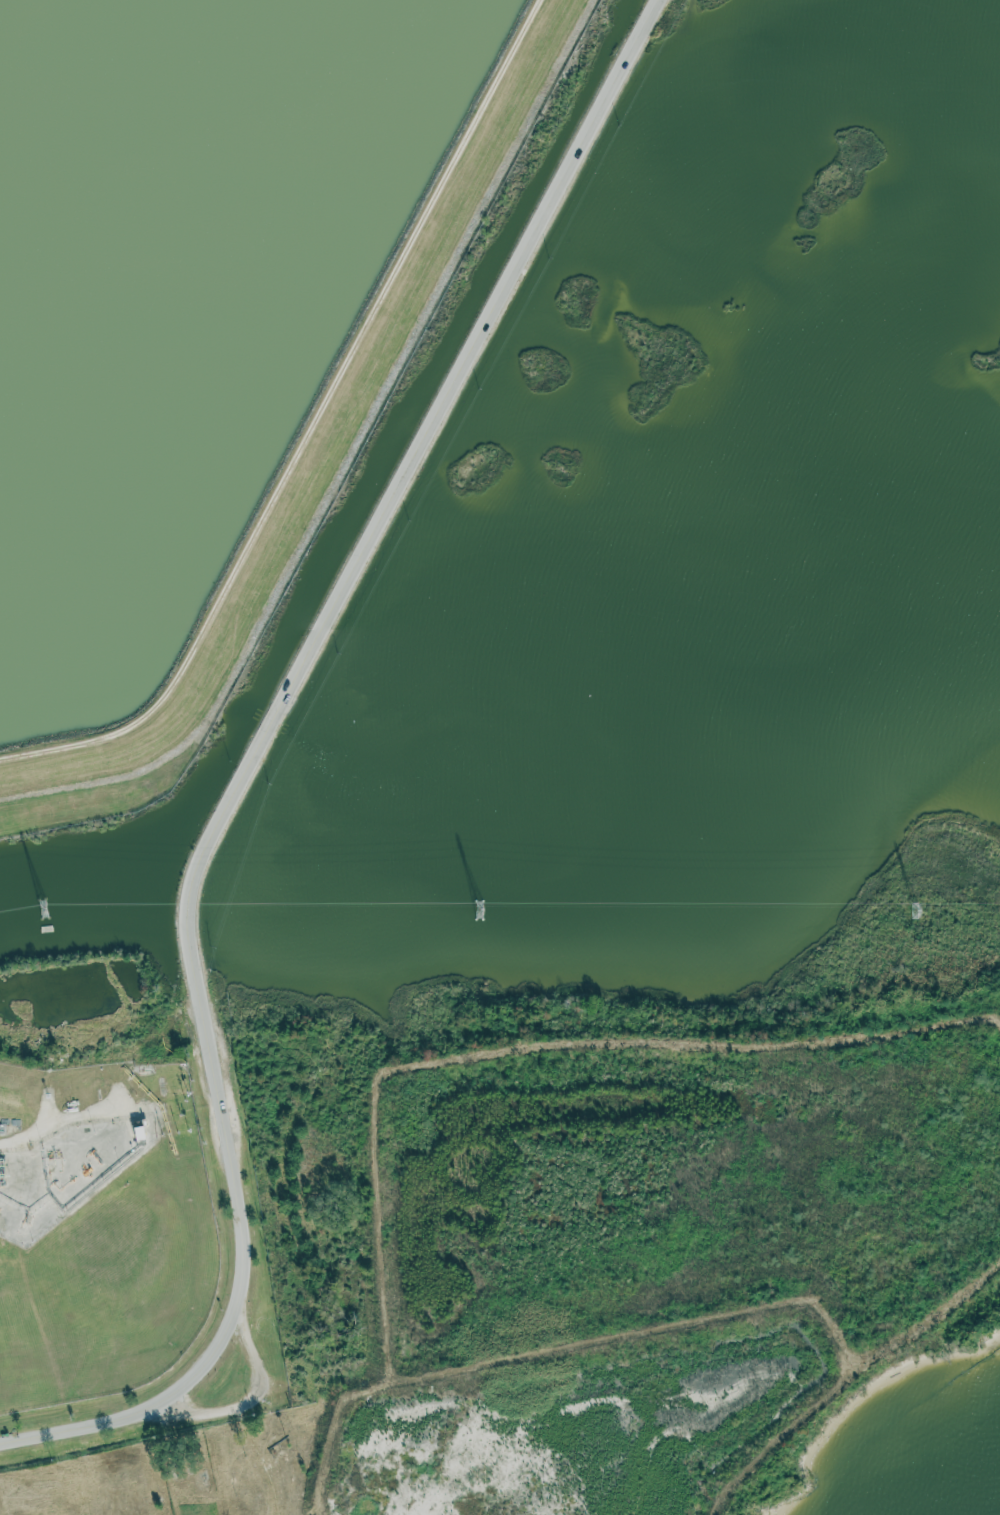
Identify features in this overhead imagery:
road: (303, 421)
road: (256, 758)
power tower: (482, 903)
power tower: (57, 907)
power tower: (916, 910)
road: (79, 1049)
road: (251, 1346)
road: (211, 1418)

